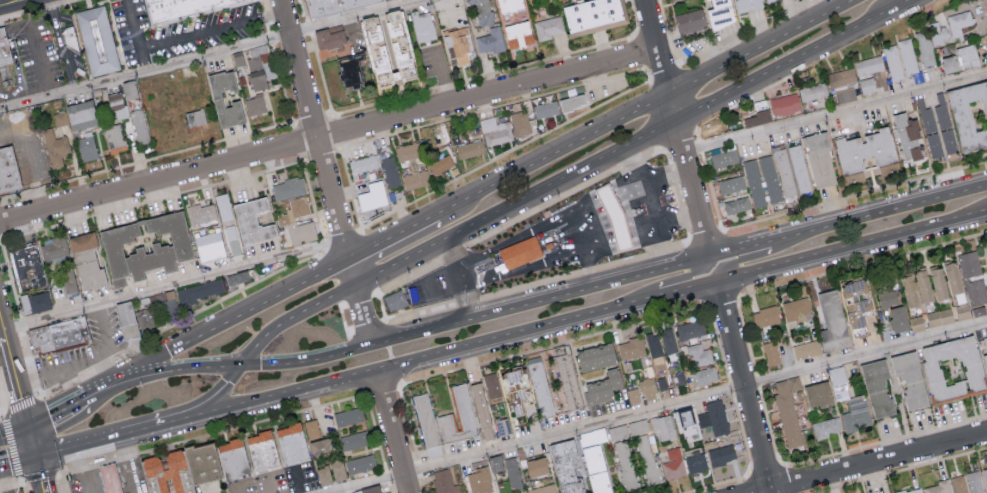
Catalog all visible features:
building: (766, 0)
road: (5, 1)
road: (411, 1)
building: (745, 4)
road: (903, 4)
building: (333, 5)
building: (507, 5)
building: (179, 7)
road: (305, 10)
building: (481, 11)
road: (448, 12)
building: (719, 13)
building: (592, 14)
road: (636, 18)
building: (688, 20)
building: (959, 23)
building: (423, 26)
road: (212, 27)
building: (547, 27)
road: (309, 28)
road: (352, 33)
building: (517, 33)
road: (137, 36)
building: (333, 37)
building: (71, 40)
building: (99, 40)
building: (490, 40)
building: (397, 43)
building: (457, 44)
road: (59, 45)
road: (655, 46)
road: (711, 46)
road: (760, 46)
building: (6, 47)
building: (924, 48)
road: (640, 51)
road: (211, 55)
building: (907, 55)
building: (257, 56)
building: (967, 56)
road: (37, 60)
building: (892, 62)
building: (949, 63)
road: (787, 65)
building: (354, 70)
road: (665, 71)
building: (867, 72)
road: (648, 73)
road: (322, 75)
road: (483, 75)
road: (442, 78)
building: (256, 79)
building: (842, 85)
road: (759, 91)
building: (812, 93)
building: (215, 96)
building: (574, 102)
building: (784, 104)
building: (255, 105)
road: (492, 107)
road: (674, 107)
building: (546, 109)
road: (835, 109)
building: (80, 114)
building: (969, 114)
building: (126, 117)
building: (194, 117)
road: (714, 117)
building: (755, 118)
building: (927, 119)
building: (520, 122)
road: (313, 129)
building: (495, 131)
road: (696, 132)
road: (680, 135)
road: (328, 136)
building: (906, 136)
road: (677, 138)
building: (948, 140)
building: (934, 144)
road: (699, 146)
building: (54, 147)
building: (86, 148)
building: (469, 148)
building: (864, 149)
road: (554, 152)
road: (504, 154)
building: (723, 155)
road: (29, 158)
building: (819, 159)
building: (440, 164)
building: (362, 165)
building: (412, 165)
building: (799, 168)
building: (9, 170)
building: (390, 170)
building: (785, 172)
building: (762, 179)
road: (690, 180)
road: (651, 181)
building: (731, 184)
road: (642, 185)
building: (288, 188)
road: (350, 188)
building: (373, 195)
road: (608, 197)
road: (515, 201)
building: (736, 204)
road: (815, 205)
building: (223, 206)
building: (298, 206)
road: (882, 209)
building: (201, 212)
road: (674, 216)
road: (517, 217)
building: (615, 217)
building: (252, 220)
road: (640, 224)
road: (621, 229)
building: (299, 231)
road: (577, 233)
road: (703, 233)
road: (704, 235)
road: (393, 236)
road: (596, 237)
road: (412, 238)
road: (514, 238)
building: (232, 239)
road: (773, 239)
road: (339, 243)
road: (850, 243)
road: (657, 244)
building: (208, 245)
building: (143, 246)
road: (738, 248)
building: (53, 249)
building: (523, 252)
road: (745, 256)
building: (85, 260)
road: (686, 261)
road: (862, 264)
building: (27, 267)
road: (523, 268)
road: (584, 269)
road: (461, 274)
road: (679, 278)
building: (979, 279)
building: (67, 280)
building: (952, 281)
building: (937, 283)
road: (177, 284)
building: (922, 285)
road: (679, 287)
building: (907, 290)
building: (203, 291)
building: (886, 297)
road: (359, 298)
building: (395, 299)
road: (722, 300)
building: (854, 300)
building: (39, 302)
building: (163, 303)
road: (381, 303)
building: (795, 309)
road: (239, 311)
road: (361, 312)
road: (287, 313)
building: (765, 315)
building: (939, 317)
building: (129, 319)
road: (343, 319)
building: (900, 320)
building: (831, 321)
road: (449, 322)
building: (916, 323)
road: (368, 324)
building: (690, 329)
road: (2, 330)
building: (858, 331)
road: (386, 333)
building: (60, 336)
building: (668, 340)
road: (552, 344)
building: (654, 347)
building: (631, 348)
building: (984, 348)
building: (805, 349)
road: (390, 351)
building: (770, 352)
building: (698, 354)
building: (595, 357)
road: (410, 358)
road: (83, 359)
traffic signals: (235, 364)
road: (185, 369)
building: (952, 369)
road: (394, 370)
traffic signals: (135, 371)
building: (837, 375)
building: (703, 376)
building: (566, 377)
building: (909, 378)
road: (112, 383)
road: (72, 384)
building: (491, 385)
road: (743, 385)
building: (540, 386)
building: (602, 387)
building: (876, 387)
building: (515, 389)
building: (647, 389)
building: (817, 393)
road: (209, 395)
building: (633, 395)
road: (22, 403)
road: (662, 407)
building: (788, 410)
road: (59, 411)
building: (486, 415)
building: (856, 415)
building: (348, 416)
building: (458, 416)
building: (714, 417)
building: (686, 422)
traffic signals: (27, 425)
building: (427, 425)
building: (638, 426)
building: (663, 427)
building: (826, 427)
road: (13, 429)
building: (311, 429)
road: (391, 430)
road: (121, 432)
building: (618, 432)
building: (592, 436)
building: (354, 439)
building: (295, 444)
building: (319, 446)
road: (52, 451)
building: (266, 451)
building: (721, 454)
traffic signals: (37, 456)
building: (236, 459)
building: (647, 459)
road: (18, 462)
building: (206, 462)
building: (695, 462)
building: (360, 463)
building: (495, 463)
building: (674, 463)
road: (873, 463)
road: (124, 464)
building: (626, 465)
building: (565, 466)
building: (535, 467)
building: (596, 469)
building: (329, 472)
building: (170, 473)
building: (512, 473)
building: (985, 476)
building: (478, 478)
building: (113, 479)
road: (299, 481)
road: (3, 482)
building: (444, 482)
building: (974, 482)
road: (266, 484)
building: (959, 484)
building: (938, 487)
road: (238, 488)
building: (370, 489)
building: (543, 489)
building: (910, 491)
building: (125, 492)

